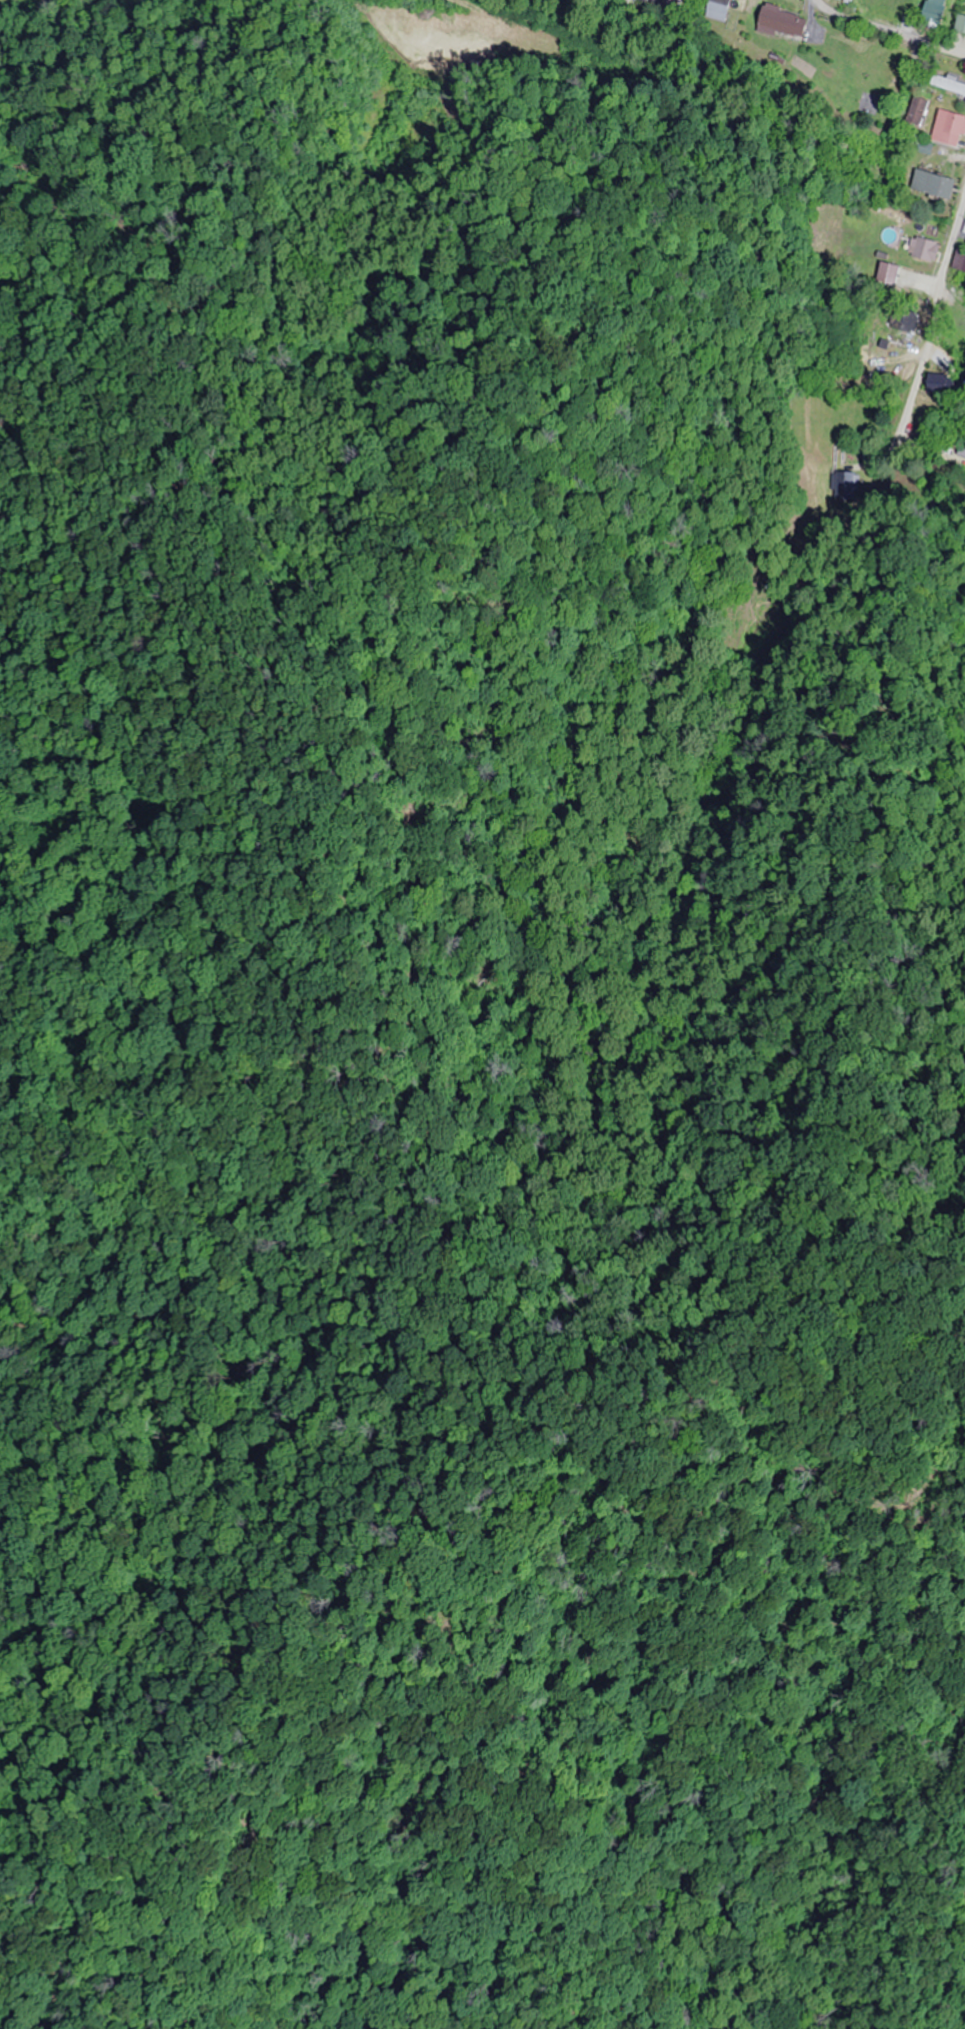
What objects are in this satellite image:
building: (842, 0)
road: (10, 3)
road: (451, 3)
building: (671, 5)
building: (719, 9)
building: (934, 12)
building: (783, 22)
building: (961, 24)
road: (891, 30)
building: (948, 85)
building: (917, 111)
building: (949, 128)
building: (933, 184)
building: (924, 248)
building: (959, 260)
road: (935, 313)
building: (946, 389)

